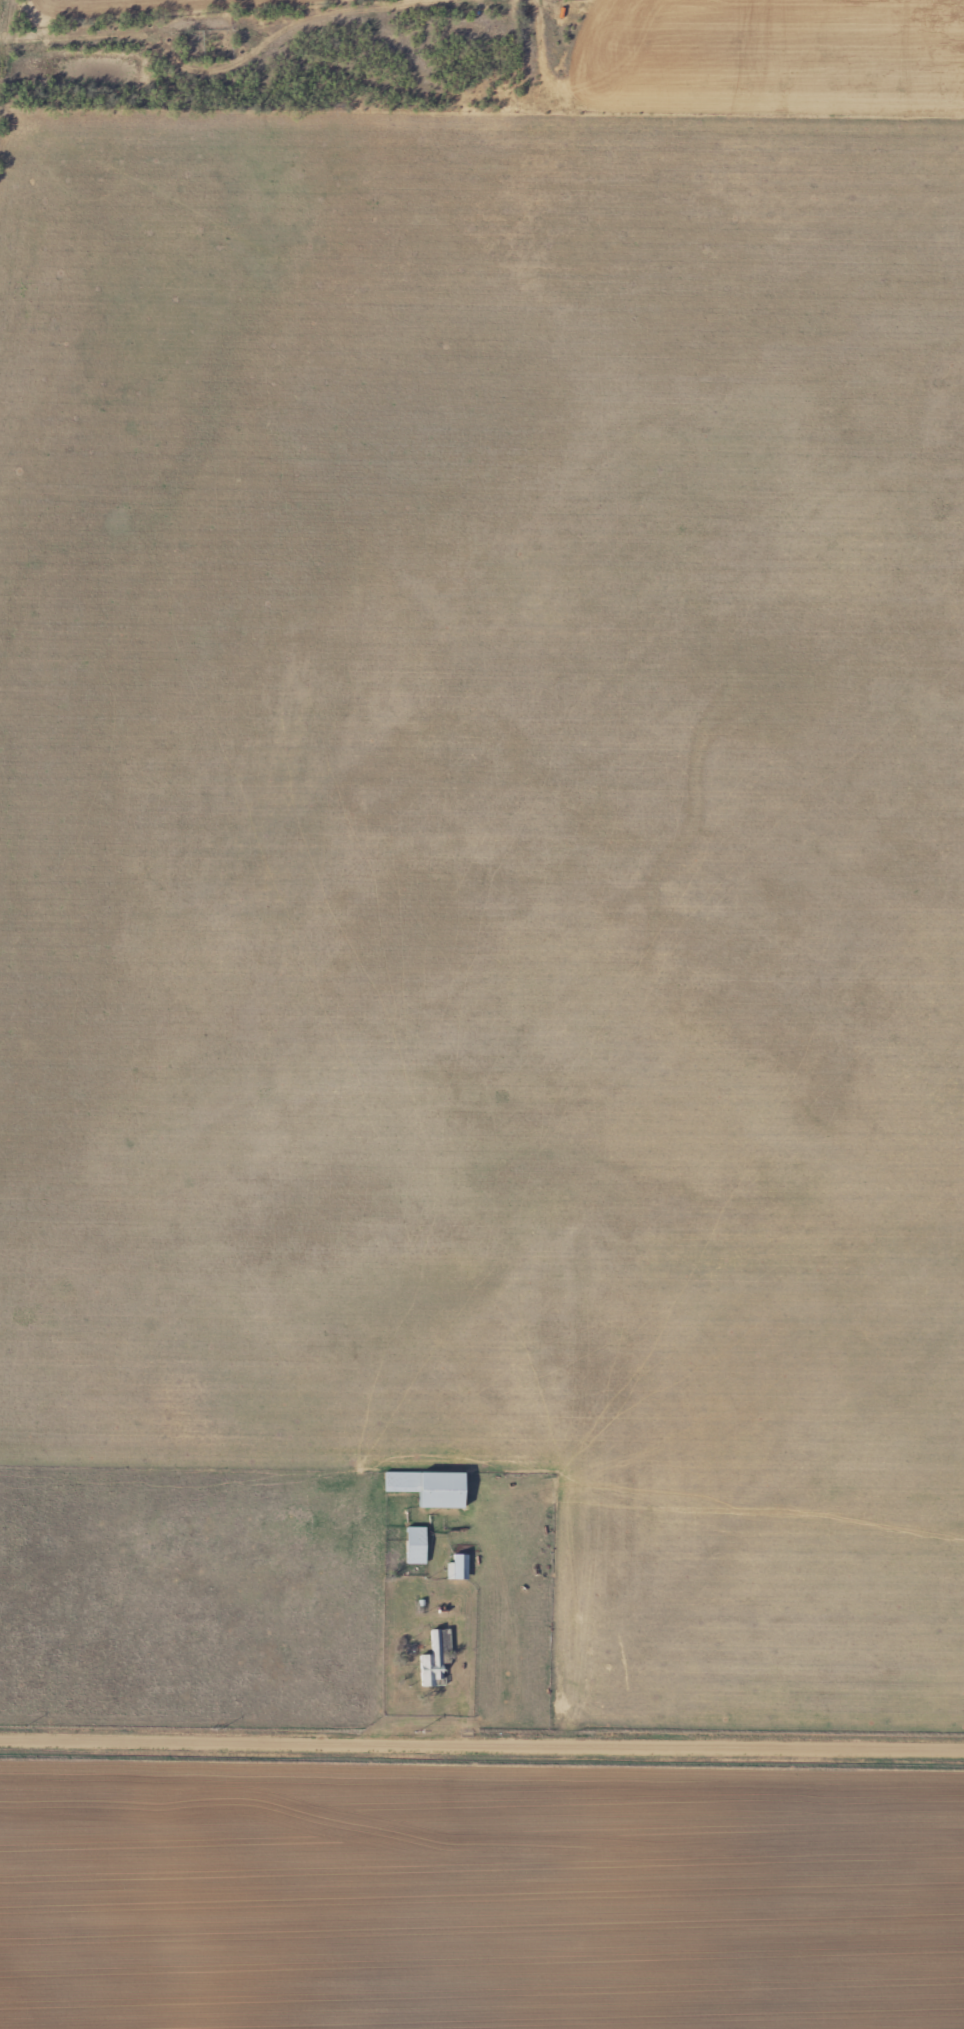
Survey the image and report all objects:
building: (436, 1491)
building: (413, 1545)
building: (454, 1567)
building: (433, 1662)
road: (482, 1754)

